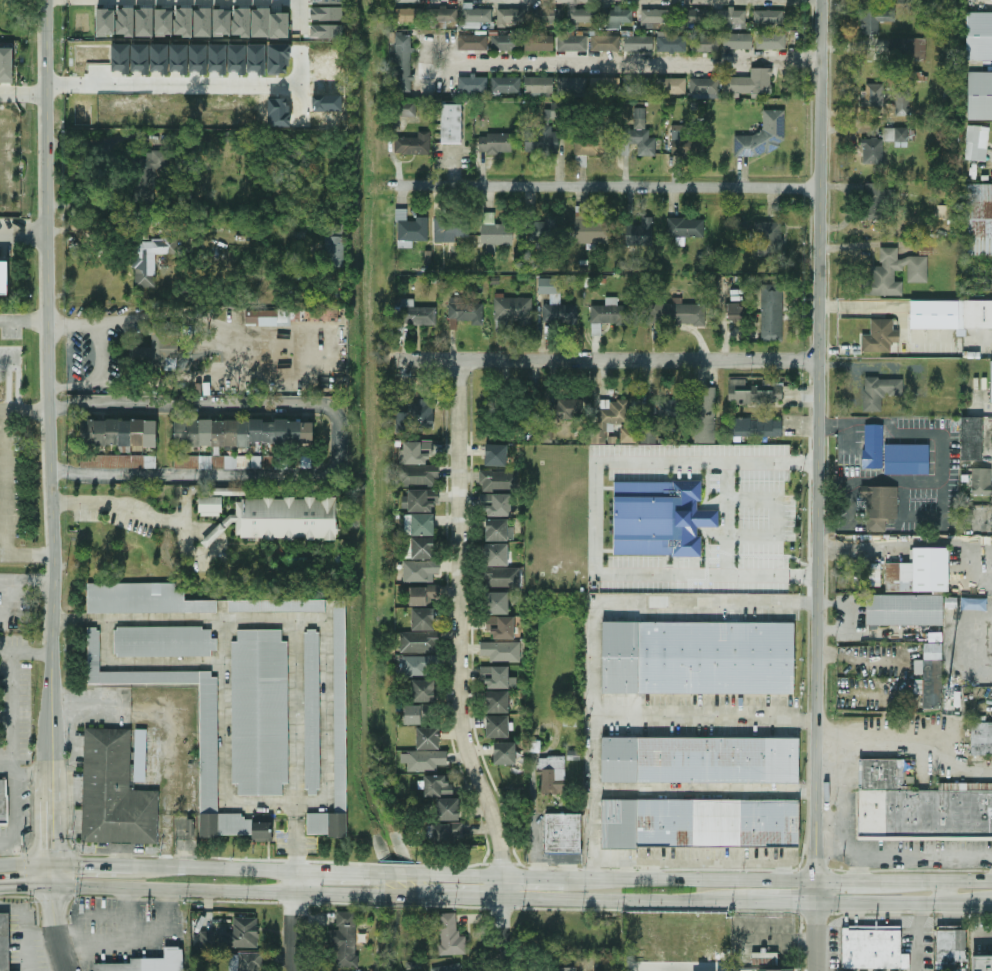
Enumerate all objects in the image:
building: (326, 1)
road: (298, 14)
building: (326, 14)
building: (476, 14)
building: (408, 15)
building: (581, 15)
building: (510, 16)
building: (655, 16)
building: (442, 17)
building: (546, 17)
building: (615, 17)
building: (697, 17)
building: (768, 17)
building: (731, 18)
building: (874, 20)
building: (125, 21)
building: (105, 22)
building: (144, 22)
building: (163, 22)
building: (183, 22)
building: (202, 22)
building: (221, 22)
building: (241, 22)
building: (260, 22)
building: (279, 25)
building: (471, 25)
building: (326, 31)
building: (979, 36)
building: (509, 41)
building: (571, 41)
building: (737, 41)
building: (770, 41)
building: (472, 42)
building: (538, 43)
building: (605, 43)
building: (638, 43)
building: (671, 43)
building: (704, 43)
building: (916, 49)
building: (120, 58)
building: (140, 58)
building: (169, 58)
building: (198, 58)
building: (217, 58)
building: (237, 58)
building: (256, 58)
building: (278, 59)
building: (402, 64)
building: (6, 65)
road: (624, 65)
road: (302, 81)
building: (751, 82)
road: (54, 83)
road: (183, 84)
building: (472, 84)
building: (505, 85)
building: (672, 85)
building: (538, 86)
building: (605, 86)
building: (637, 86)
building: (572, 87)
building: (704, 88)
building: (873, 95)
building: (979, 95)
road: (23, 96)
building: (902, 104)
building: (406, 109)
building: (451, 123)
building: (895, 134)
building: (637, 136)
building: (763, 136)
building: (681, 139)
road: (102, 140)
building: (542, 140)
building: (495, 143)
building: (976, 143)
building: (413, 144)
building: (589, 147)
building: (872, 151)
building: (148, 175)
road: (612, 186)
building: (873, 201)
building: (977, 219)
building: (590, 227)
building: (410, 229)
building: (450, 229)
building: (685, 229)
building: (540, 230)
road: (99, 231)
building: (496, 231)
building: (640, 233)
road: (23, 236)
building: (768, 238)
building: (335, 246)
building: (150, 259)
building: (894, 273)
building: (3, 278)
building: (555, 303)
building: (466, 311)
building: (512, 311)
building: (736, 312)
building: (416, 313)
building: (772, 313)
building: (607, 314)
building: (676, 314)
building: (951, 314)
road: (157, 317)
building: (267, 317)
road: (24, 321)
building: (880, 336)
road: (955, 336)
building: (160, 346)
road: (608, 360)
road: (96, 373)
building: (991, 381)
road: (48, 384)
building: (755, 392)
building: (880, 392)
building: (661, 408)
building: (566, 409)
road: (24, 411)
building: (705, 414)
building: (416, 416)
building: (610, 418)
building: (755, 427)
building: (118, 432)
building: (238, 432)
building: (628, 435)
building: (648, 436)
road: (333, 437)
road: (940, 439)
building: (971, 439)
road: (818, 441)
building: (871, 445)
building: (417, 452)
building: (496, 455)
building: (906, 459)
building: (118, 461)
building: (210, 461)
building: (261, 461)
road: (772, 462)
road: (601, 463)
building: (417, 475)
building: (981, 481)
road: (3, 482)
building: (226, 491)
building: (420, 500)
building: (497, 504)
building: (210, 506)
building: (879, 506)
road: (131, 508)
building: (659, 518)
building: (282, 519)
building: (419, 524)
building: (498, 530)
road: (213, 533)
road: (920, 544)
building: (419, 548)
road: (195, 554)
road: (25, 555)
building: (499, 567)
building: (420, 571)
building: (919, 572)
building: (873, 575)
road: (11, 580)
road: (37, 580)
building: (418, 596)
building: (142, 599)
building: (497, 603)
building: (276, 605)
road: (22, 606)
road: (734, 606)
building: (904, 609)
building: (423, 619)
building: (500, 627)
building: (164, 641)
building: (416, 642)
building: (501, 651)
building: (698, 658)
building: (416, 665)
road: (462, 669)
building: (929, 676)
building: (497, 677)
road: (12, 690)
building: (423, 691)
building: (497, 702)
building: (260, 712)
building: (311, 712)
road: (629, 713)
building: (417, 714)
building: (497, 726)
road: (176, 729)
building: (336, 736)
building: (427, 738)
building: (981, 738)
building: (208, 748)
road: (904, 750)
building: (504, 753)
building: (139, 756)
building: (426, 760)
building: (700, 760)
building: (552, 774)
building: (437, 786)
road: (716, 791)
building: (114, 792)
road: (15, 795)
building: (3, 801)
road: (840, 802)
building: (919, 805)
building: (447, 809)
road: (50, 816)
road: (614, 816)
building: (700, 823)
building: (262, 831)
building: (447, 833)
building: (562, 833)
traffic signals: (50, 845)
road: (848, 850)
road: (911, 855)
road: (25, 864)
traffic signals: (83, 864)
road: (92, 864)
road: (705, 864)
road: (216, 867)
road: (335, 872)
road: (51, 874)
road: (436, 875)
road: (531, 878)
road: (689, 879)
road: (853, 881)
road: (941, 881)
traffic signals: (23, 885)
road: (25, 885)
road: (236, 891)
road: (947, 892)
road: (462, 897)
road: (621, 900)
road: (779, 903)
road: (904, 904)
traffic signals: (53, 907)
road: (53, 908)
road: (103, 914)
road: (297, 921)
road: (131, 925)
road: (817, 926)
building: (240, 933)
building: (450, 935)
road: (133, 937)
building: (203, 938)
building: (345, 940)
building: (4, 943)
building: (873, 948)
road: (64, 951)
building: (764, 958)
building: (245, 962)
building: (149, 963)
building: (982, 963)
building: (451, 967)
road: (901, 967)
building: (567, 969)
building: (776, 970)

